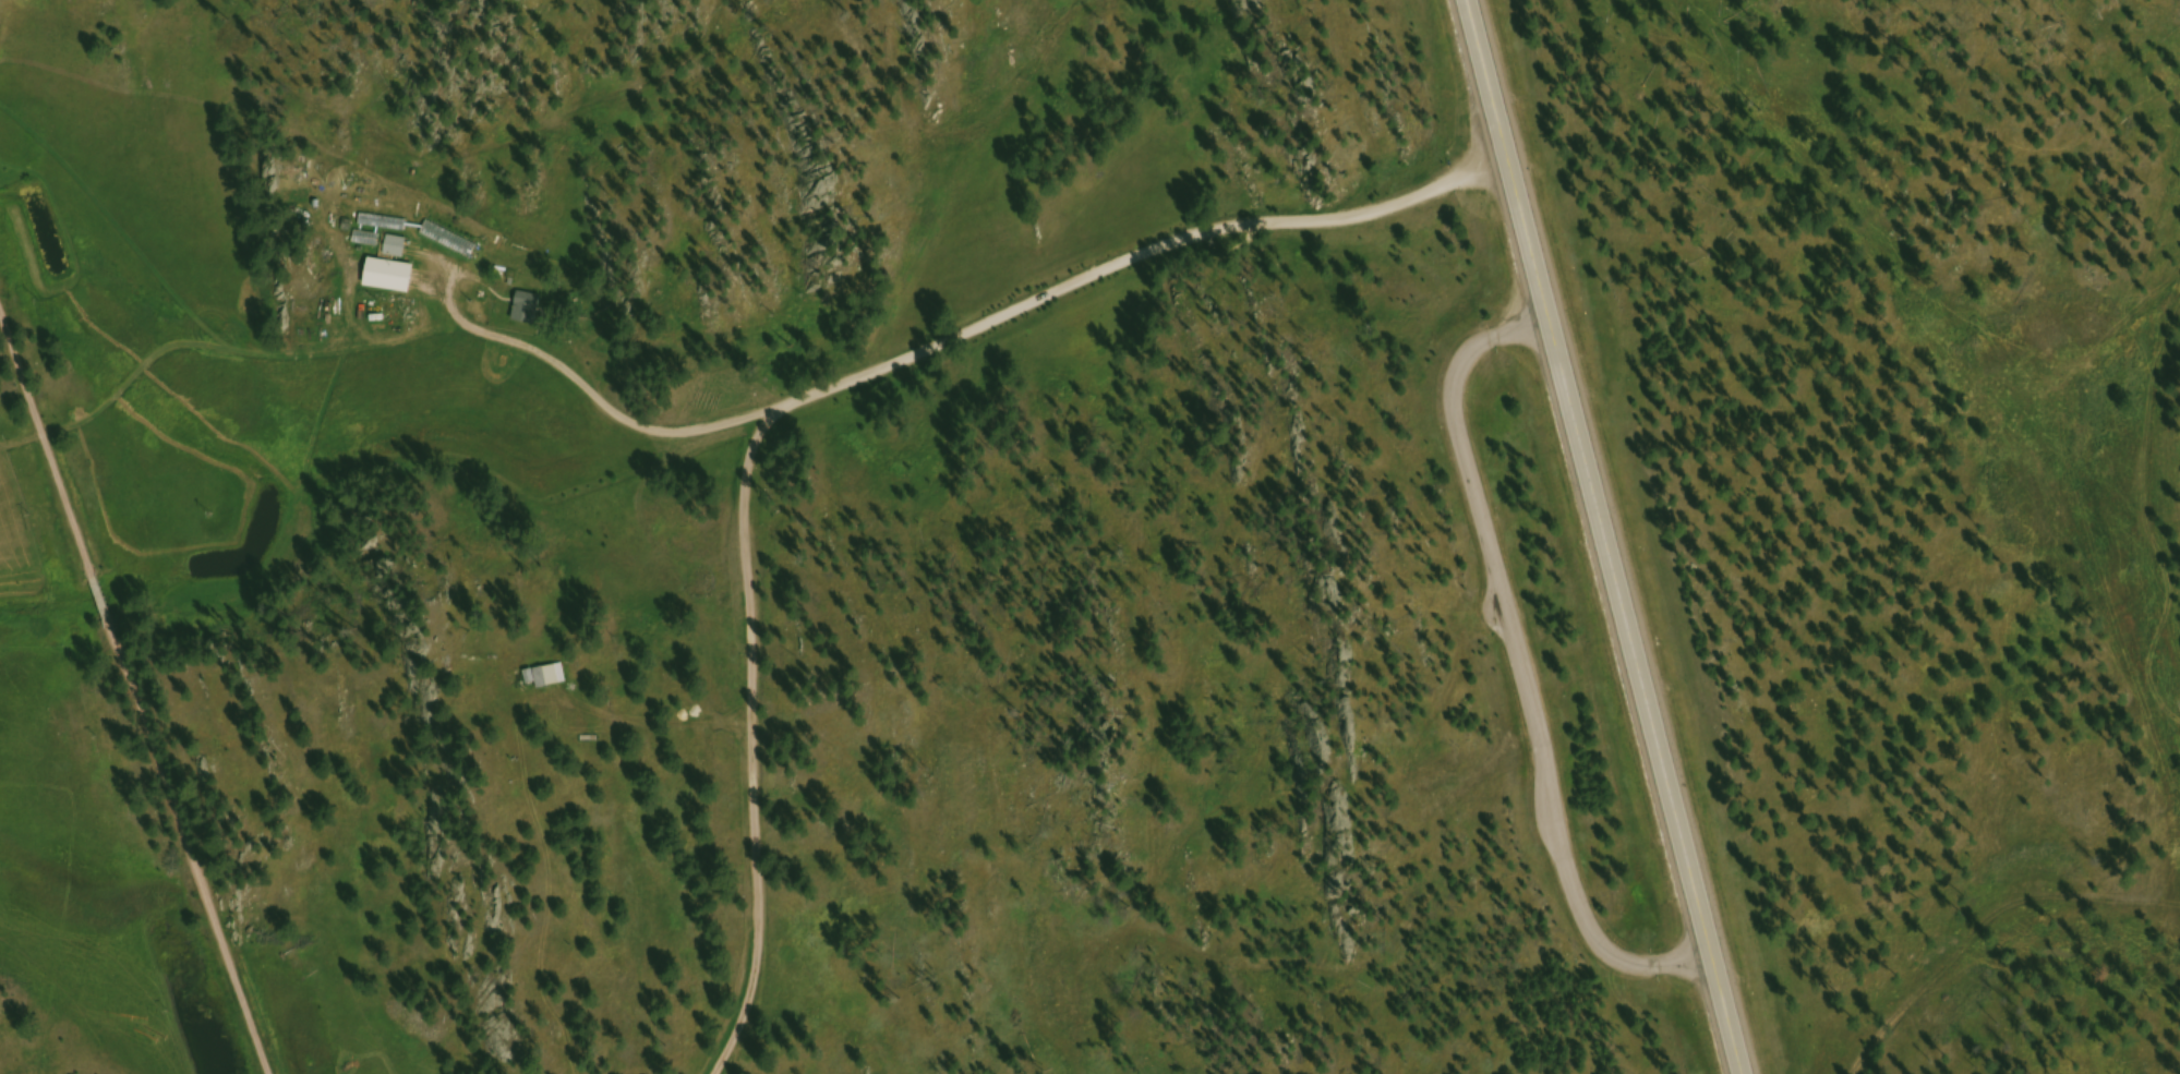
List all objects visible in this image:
building: (384, 225)
building: (369, 241)
building: (397, 249)
building: (528, 310)
road: (821, 395)
road: (1604, 536)
building: (546, 679)
road: (140, 684)

